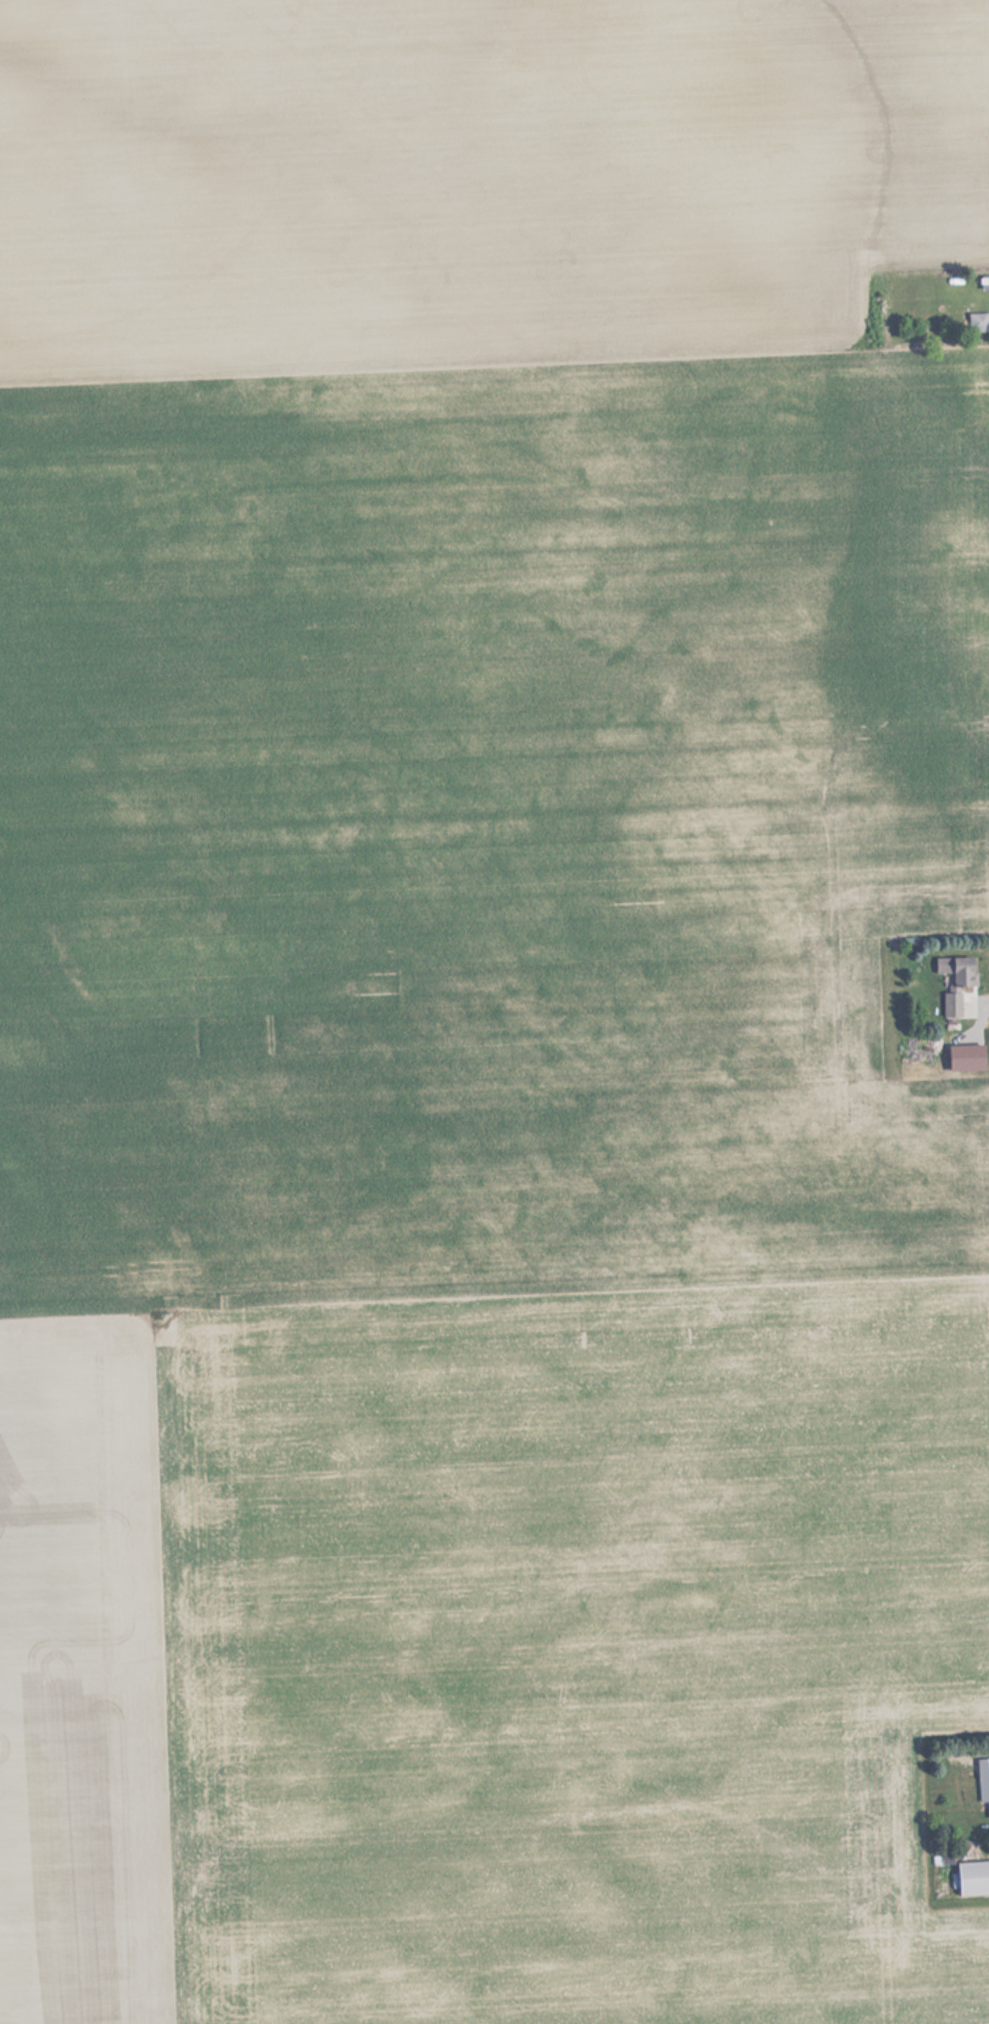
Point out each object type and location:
building: (978, 323)
building: (958, 981)
crop: (485, 1010)
building: (947, 1079)
building: (984, 1780)
building: (975, 1876)

